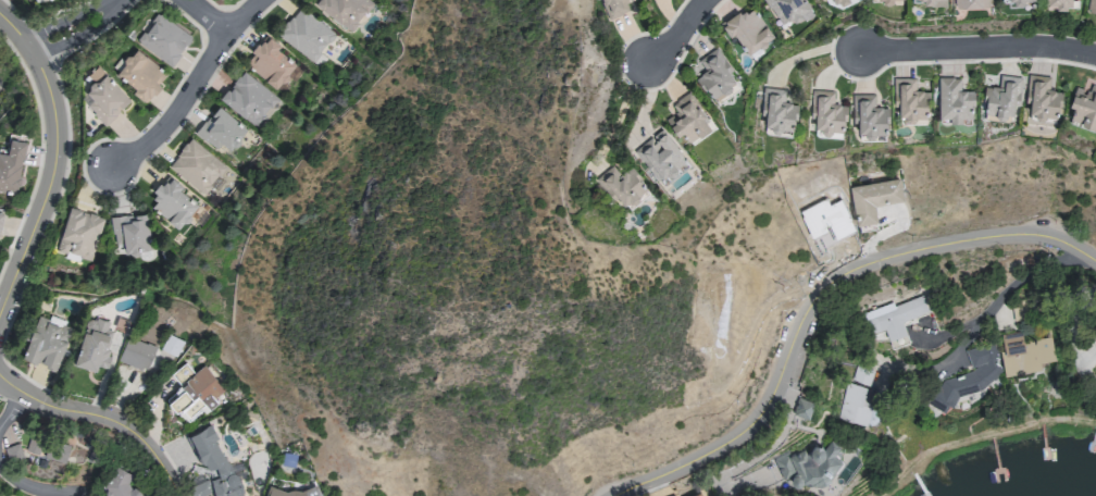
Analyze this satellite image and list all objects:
building: (36, 0)
road: (124, 0)
building: (823, 0)
road: (122, 1)
building: (879, 1)
building: (1010, 1)
building: (842, 2)
building: (932, 2)
building: (971, 3)
building: (1091, 5)
building: (616, 7)
building: (788, 10)
building: (346, 11)
road: (210, 15)
building: (747, 28)
building: (306, 34)
road: (677, 34)
building: (163, 38)
road: (976, 47)
building: (271, 64)
building: (139, 73)
building: (715, 76)
road: (191, 89)
building: (102, 96)
building: (1001, 96)
building: (248, 98)
building: (954, 99)
building: (1042, 99)
building: (909, 101)
building: (1084, 106)
road: (620, 113)
building: (776, 113)
building: (826, 113)
building: (869, 116)
building: (688, 119)
building: (221, 129)
road: (52, 156)
building: (661, 157)
building: (11, 164)
building: (197, 166)
building: (622, 185)
building: (872, 200)
building: (173, 203)
building: (0, 215)
building: (79, 232)
building: (132, 235)
road: (1062, 251)
road: (823, 296)
road: (993, 302)
building: (893, 321)
road: (1074, 324)
building: (46, 340)
building: (1093, 340)
building: (92, 342)
building: (171, 345)
building: (1023, 352)
building: (136, 354)
building: (861, 375)
building: (969, 376)
building: (192, 392)
building: (855, 404)
road: (8, 405)
building: (801, 405)
road: (101, 420)
building: (50, 450)
building: (811, 462)
building: (212, 468)
building: (117, 484)
road: (35, 488)
building: (285, 491)
building: (664, 492)
building: (697, 494)

